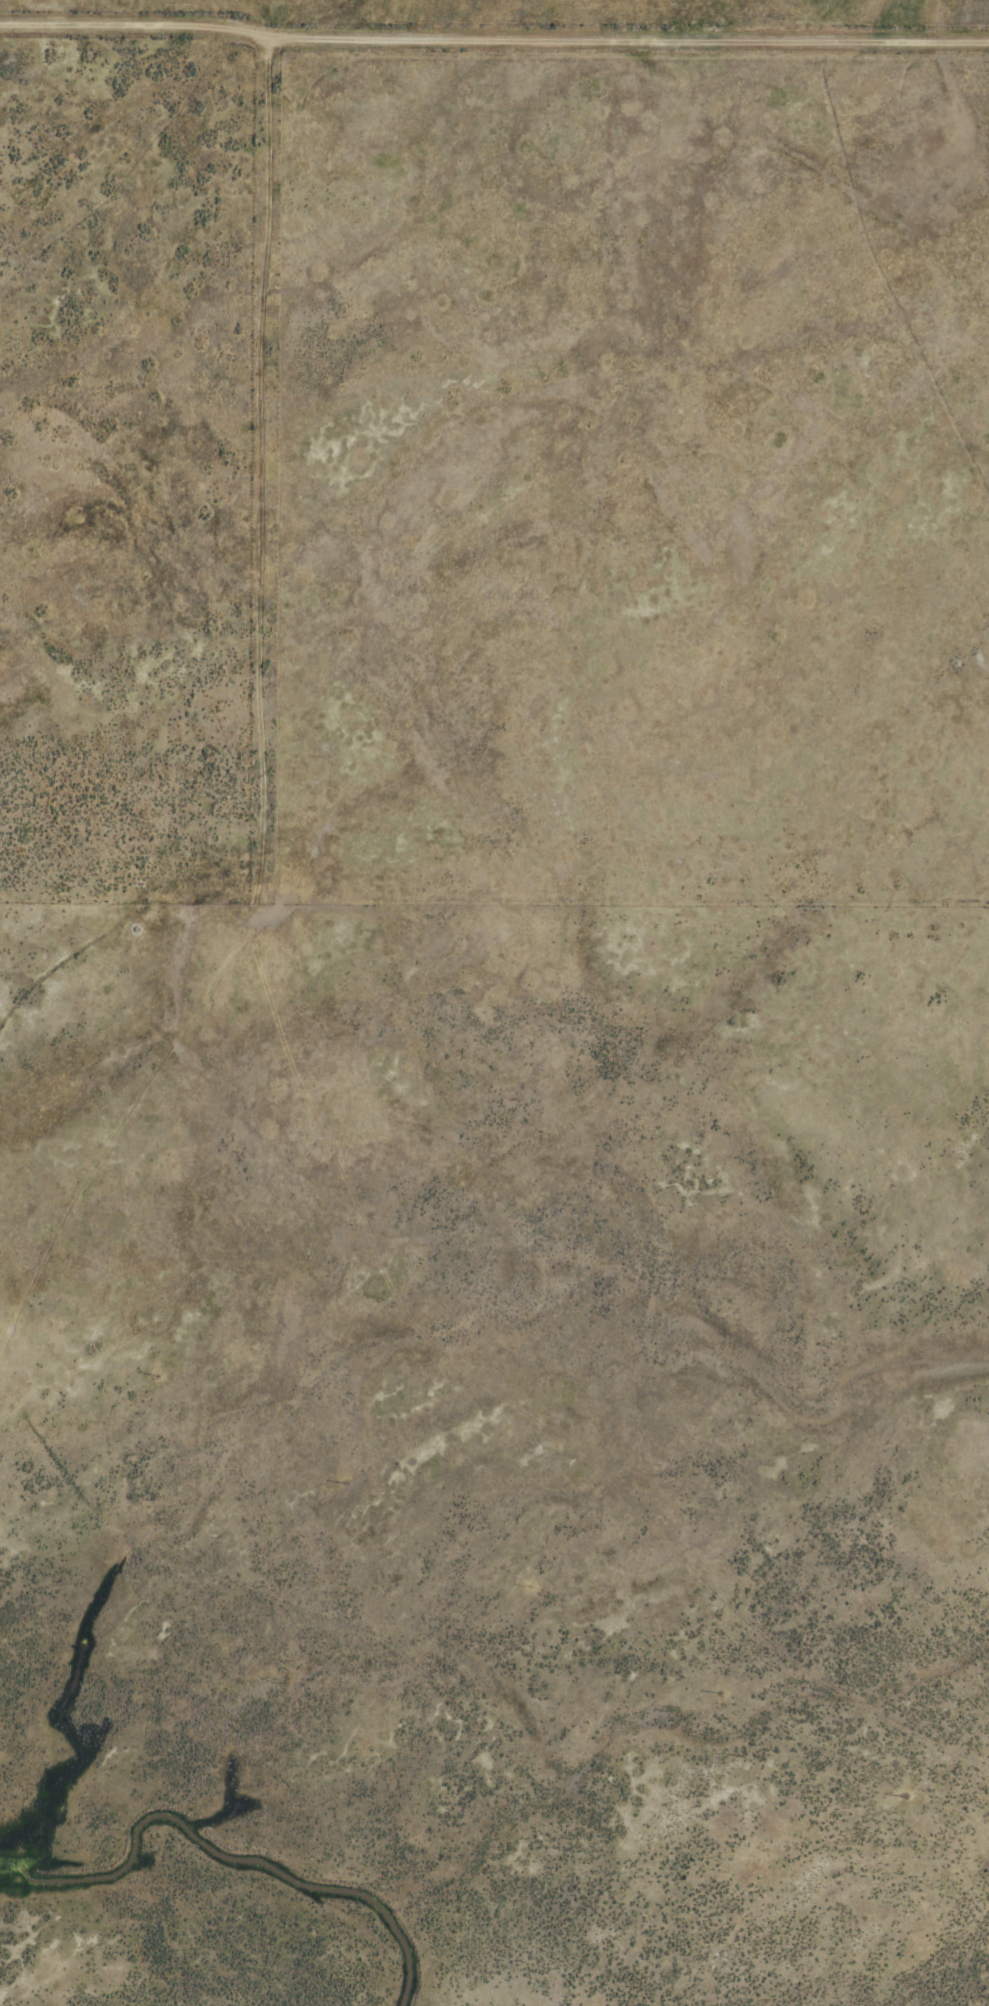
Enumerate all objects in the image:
road: (494, 26)
crop: (494, 1003)

